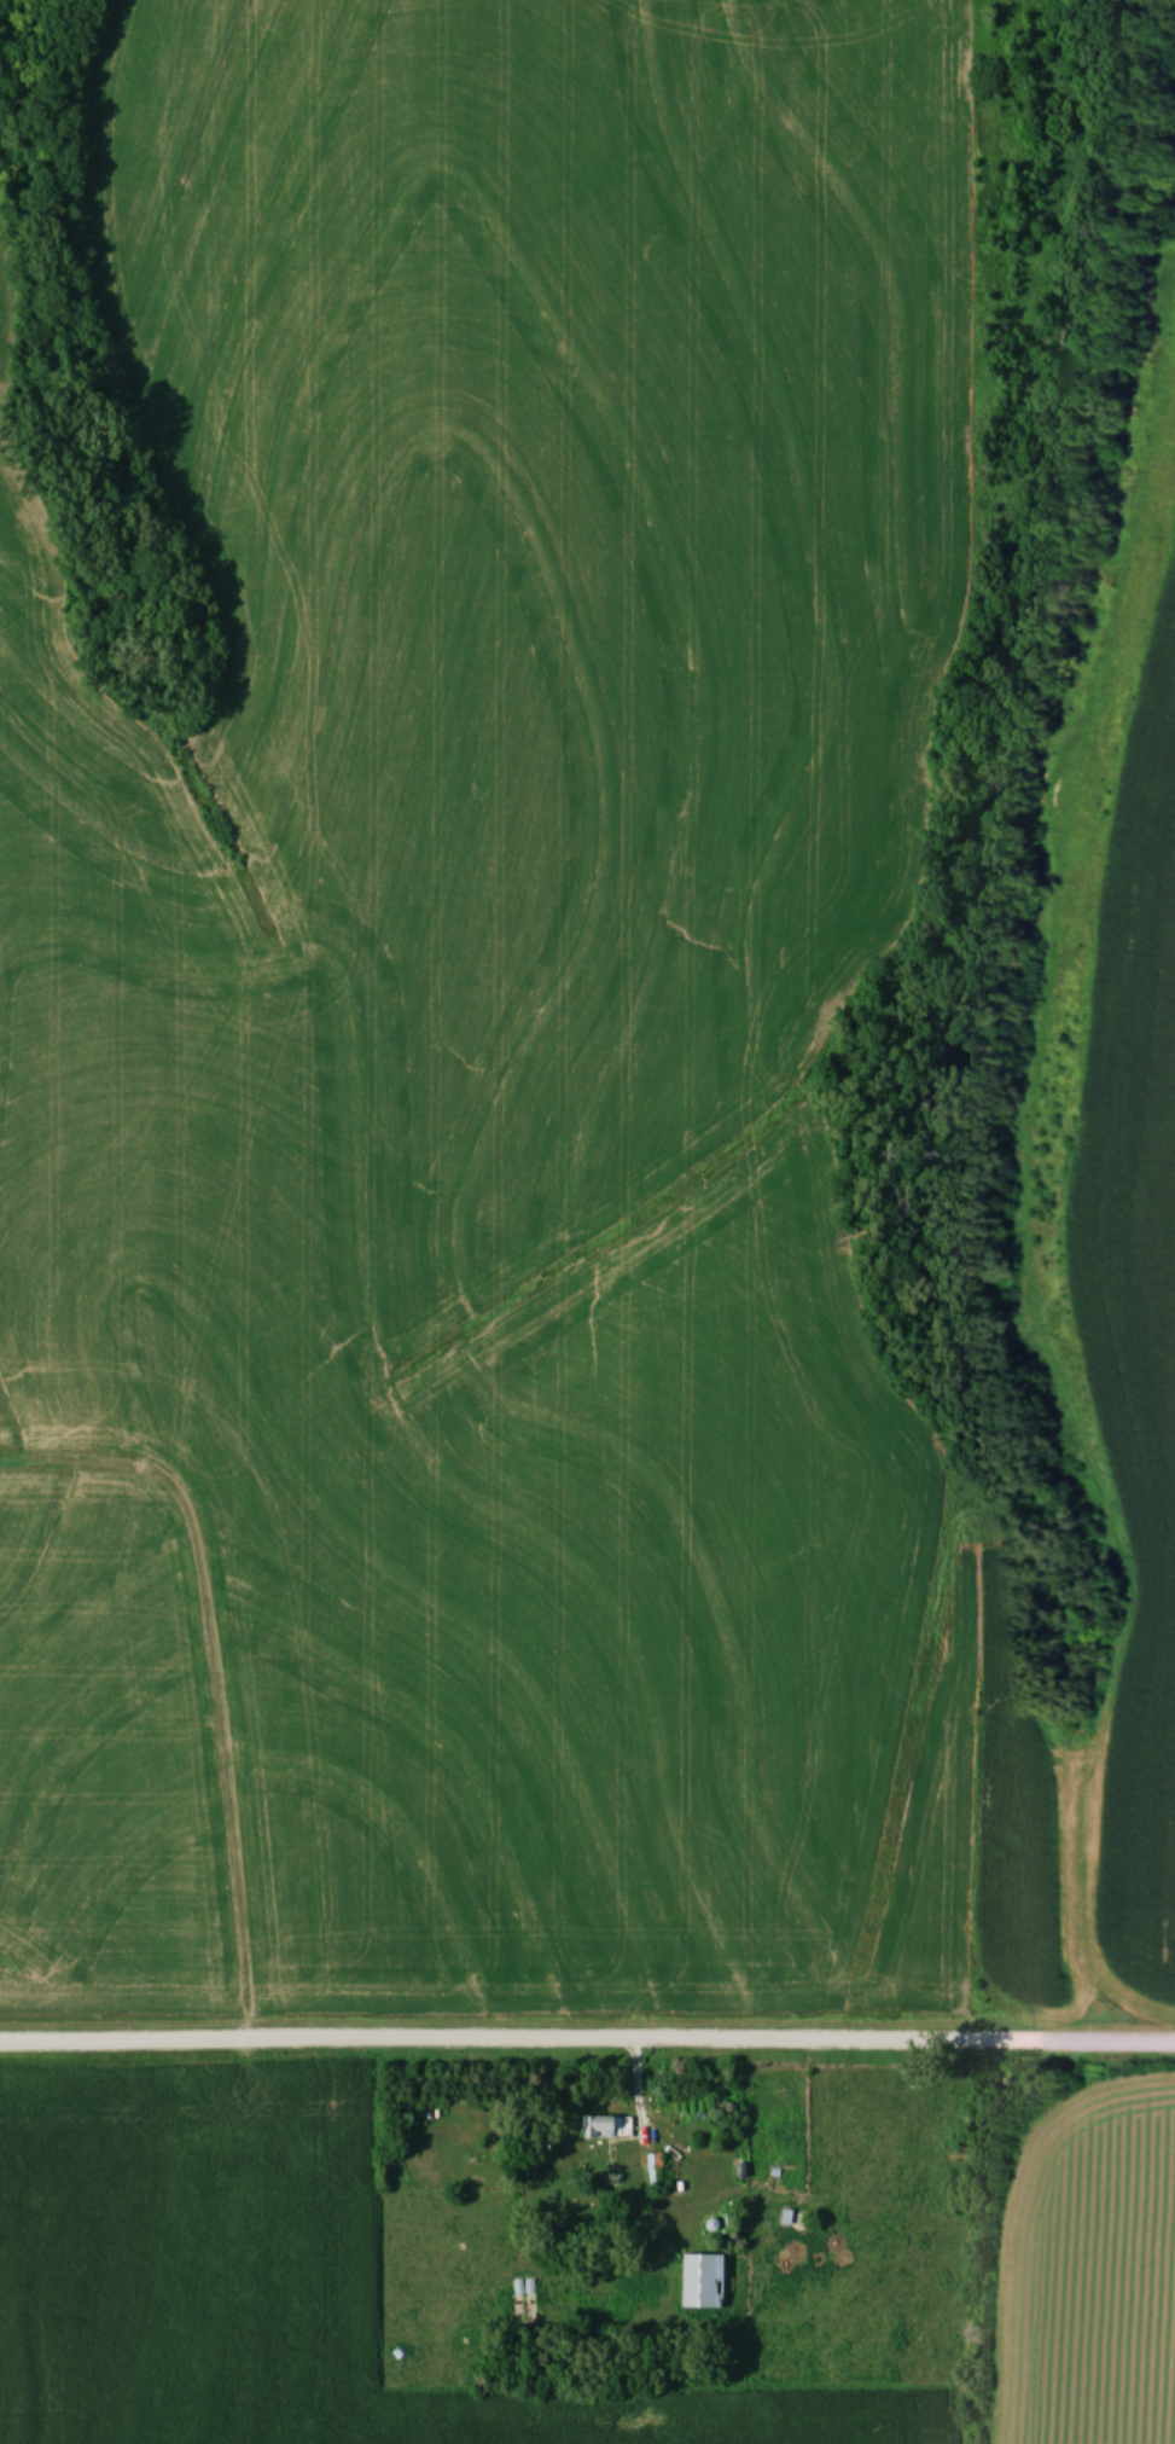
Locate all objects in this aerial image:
road: (587, 2042)
building: (603, 2126)
building: (696, 2281)

